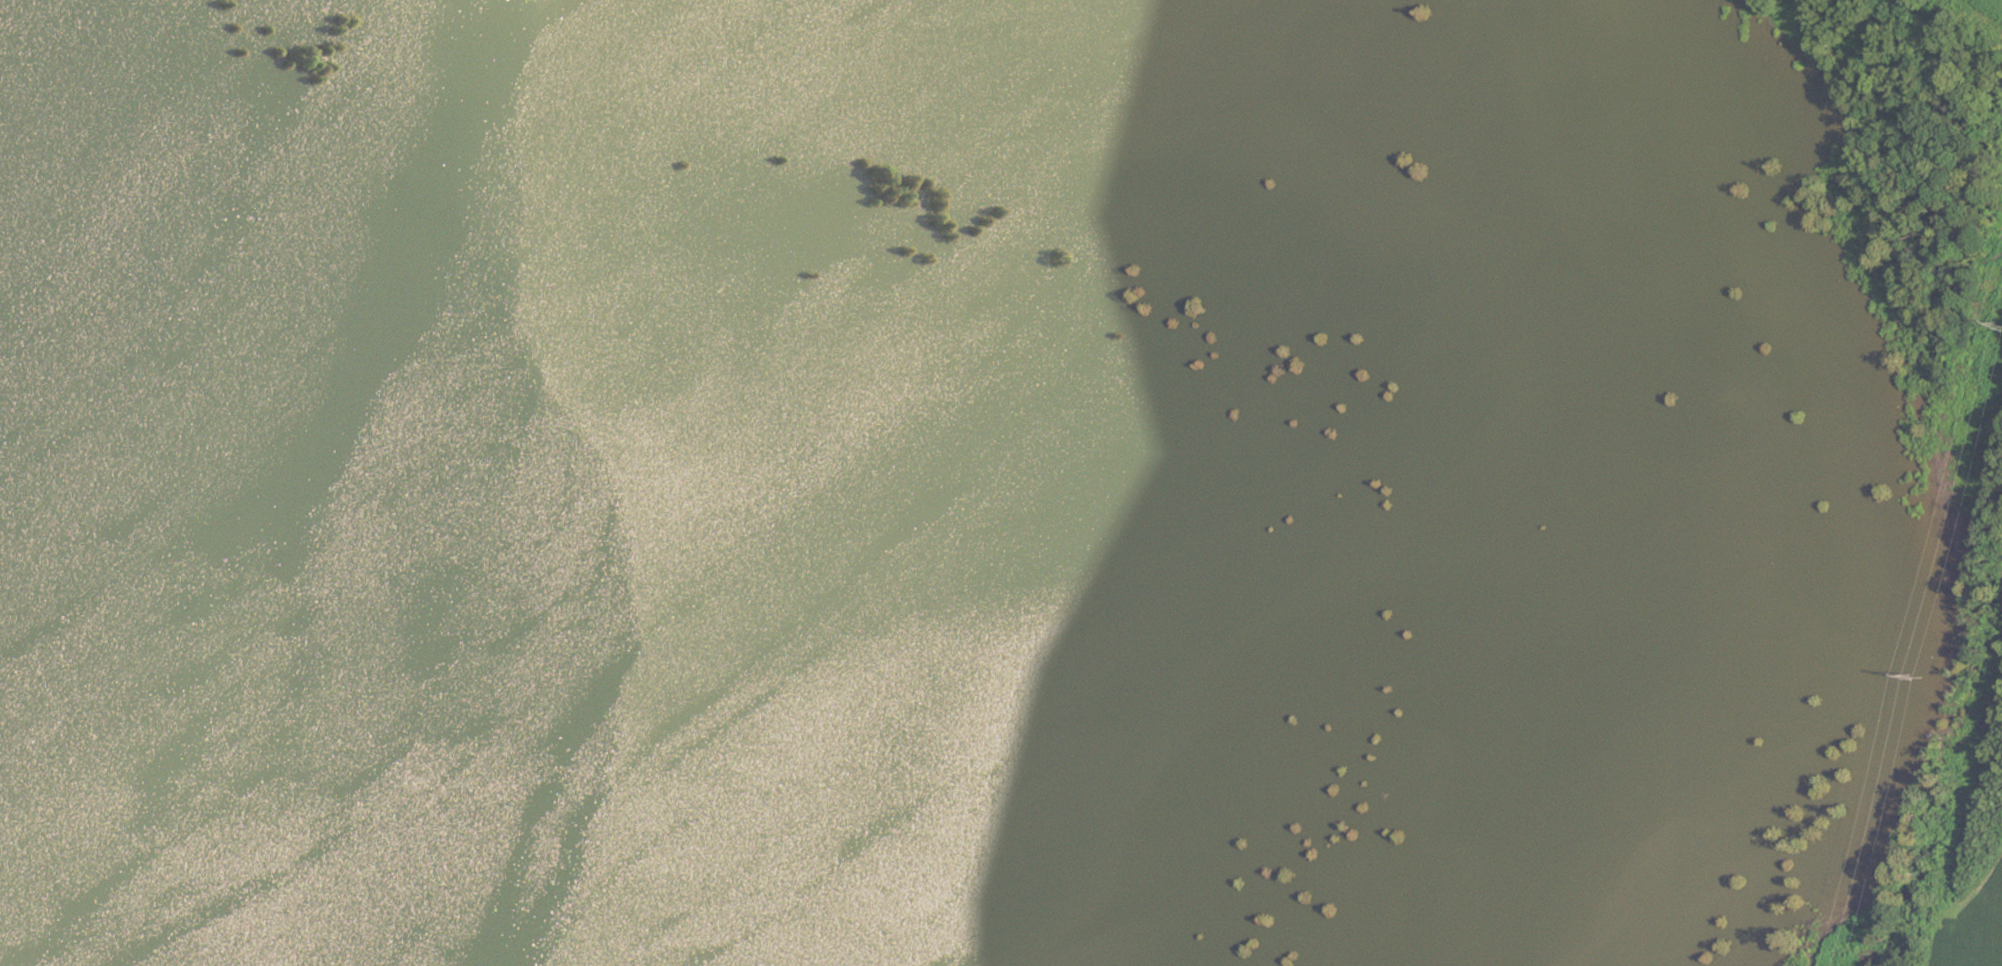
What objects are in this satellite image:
power tower: (1998, 329)
power tower: (1913, 679)

